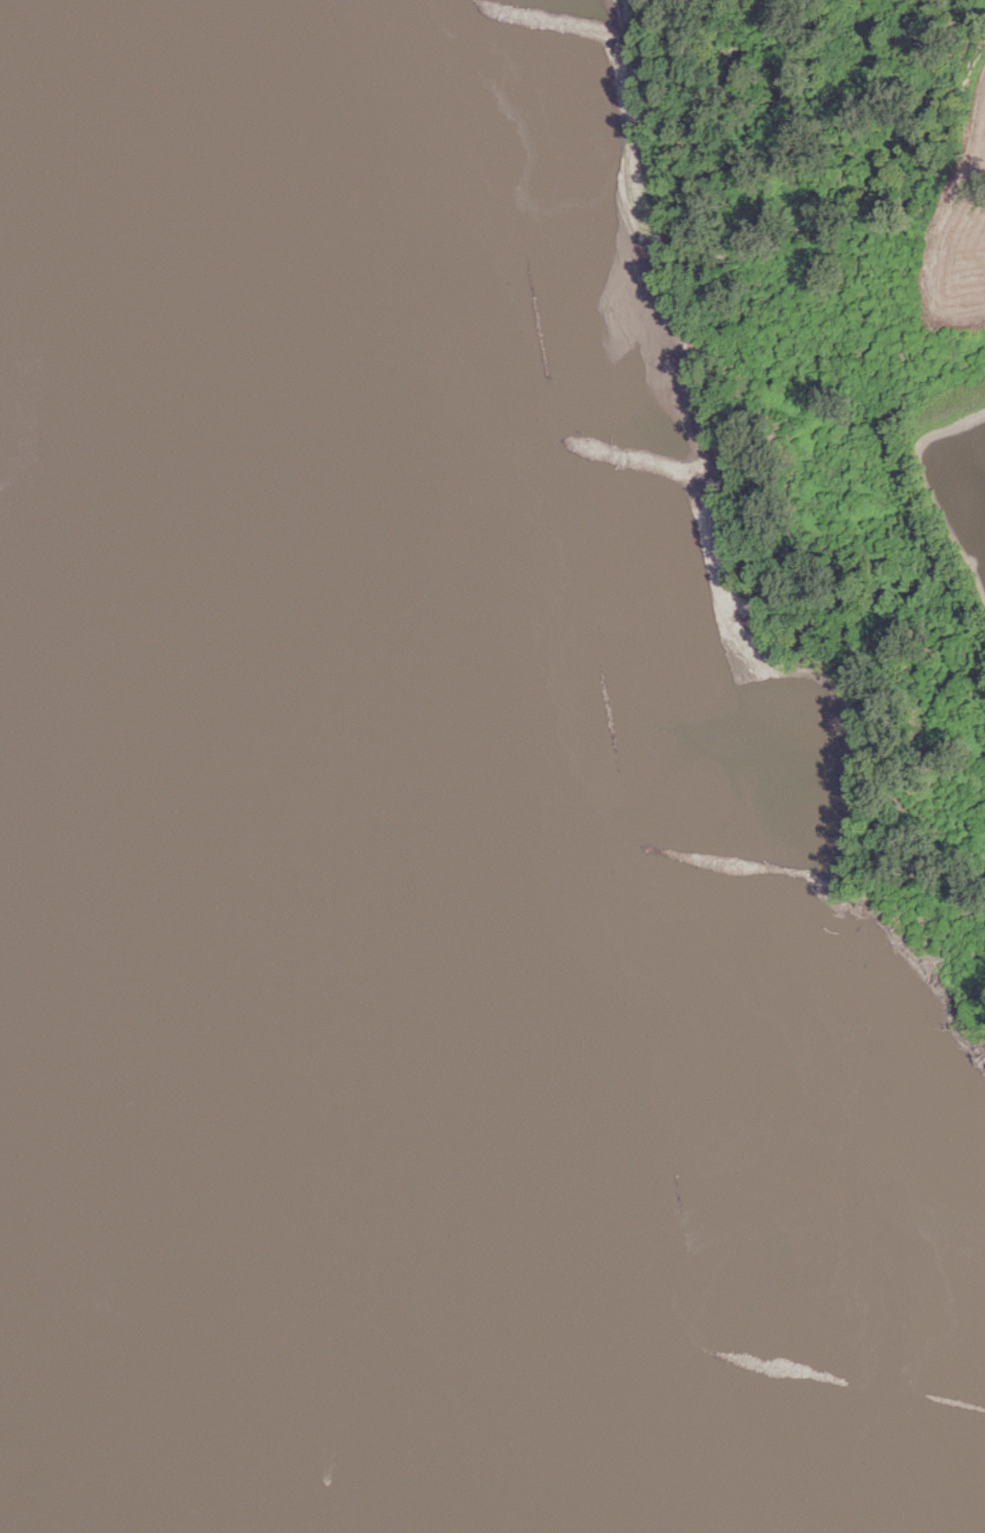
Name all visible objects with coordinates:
crop: (955, 231)
crop: (951, 467)
river: (346, 764)

